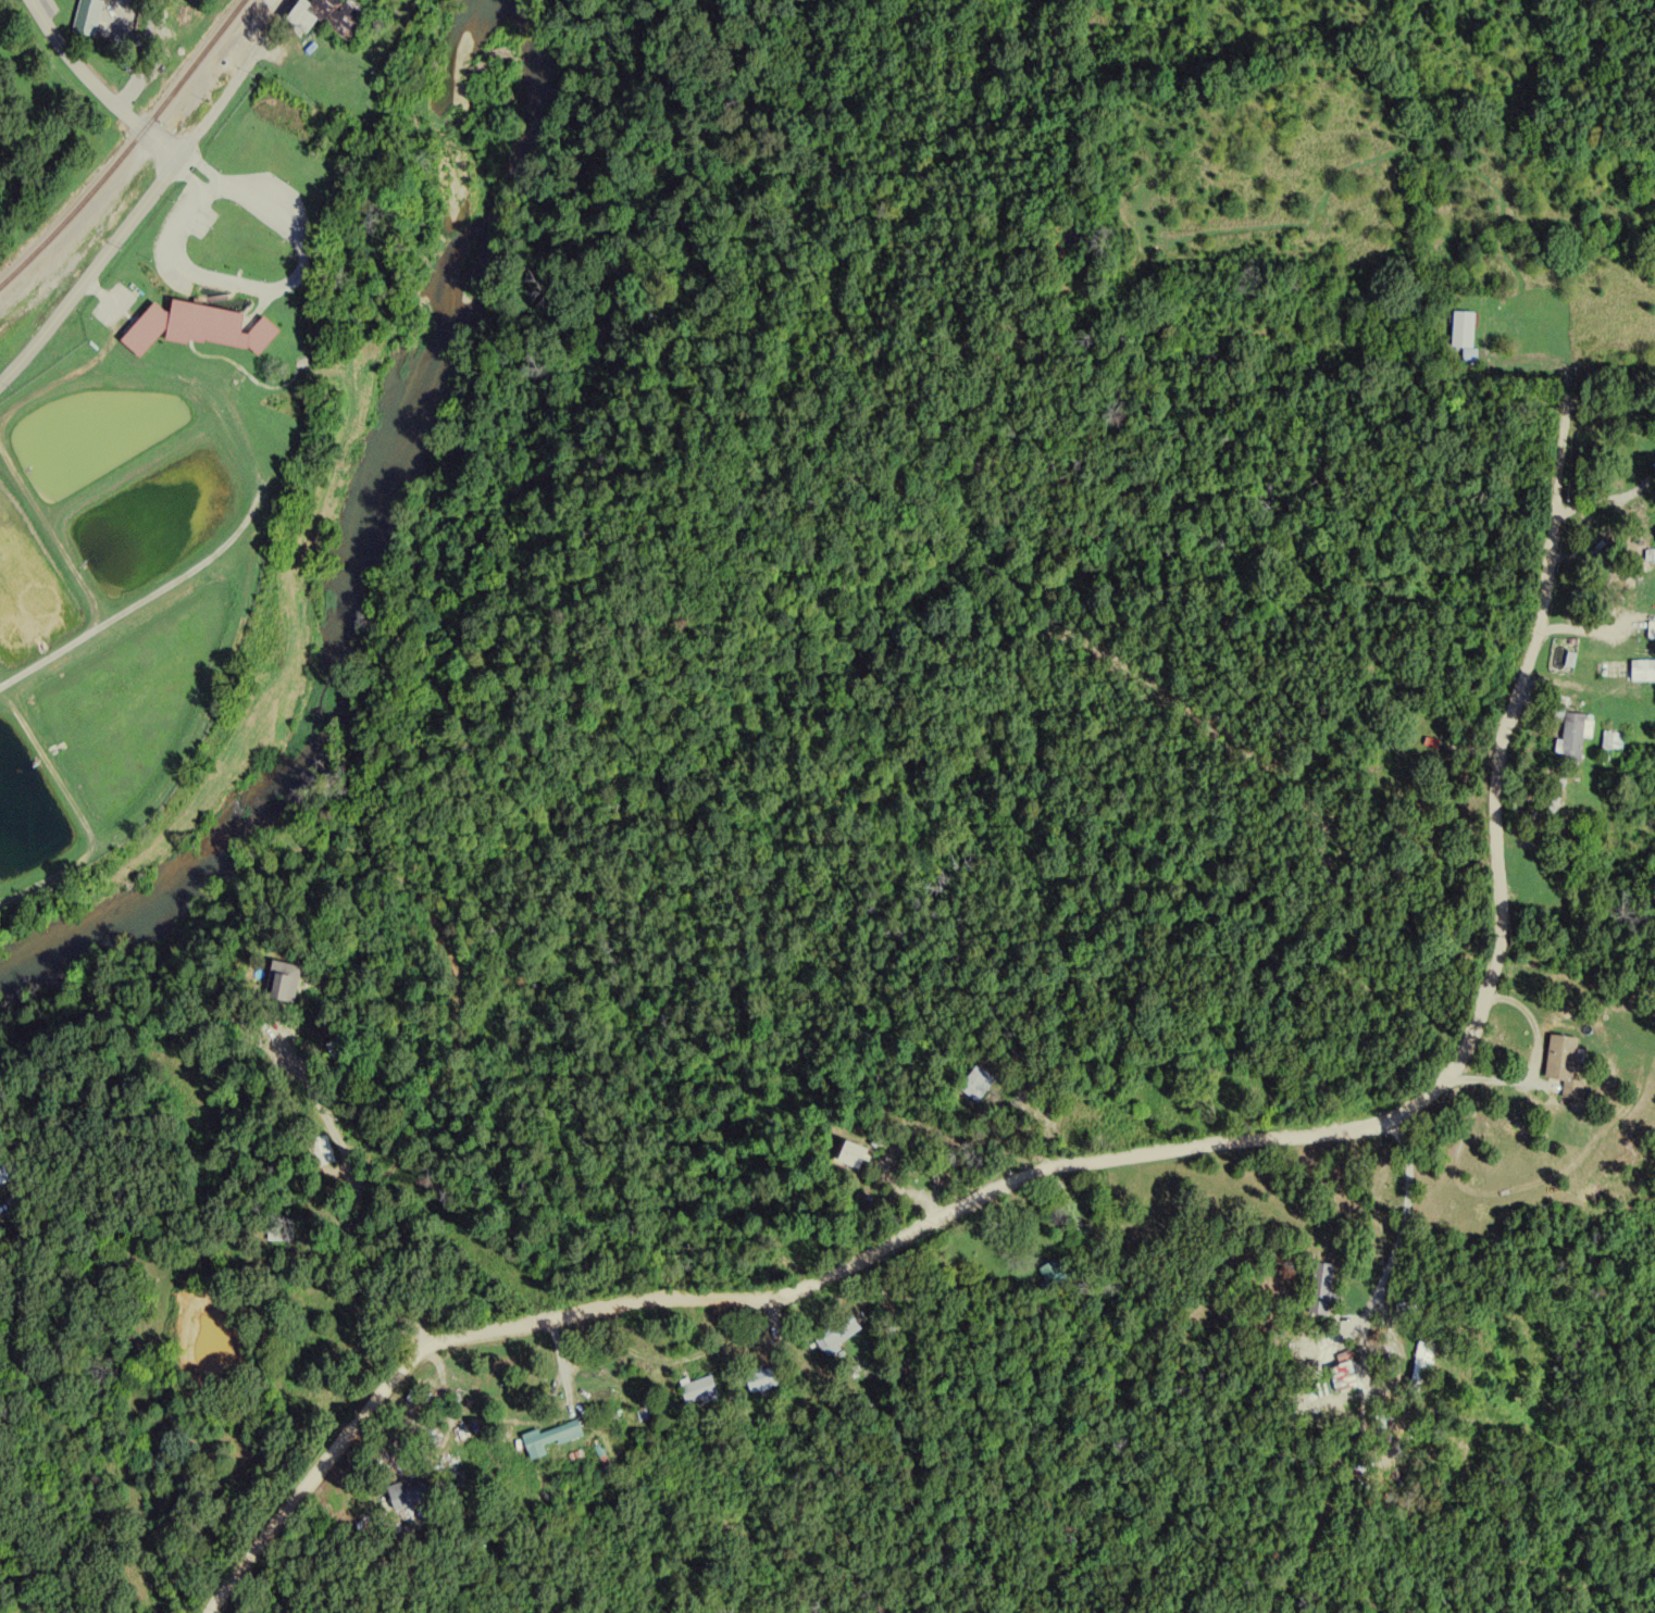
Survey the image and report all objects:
building: (88, 14)
building: (299, 17)
road: (42, 24)
road: (216, 103)
road: (114, 107)
railway: (129, 149)
park: (57, 182)
road: (90, 275)
building: (200, 321)
building: (1459, 334)
road: (819, 446)
river: (364, 552)
road: (1108, 653)
building: (1622, 675)
building: (1567, 734)
building: (1609, 746)
building: (1409, 776)
building: (282, 989)
road: (322, 1156)
road: (465, 1205)

